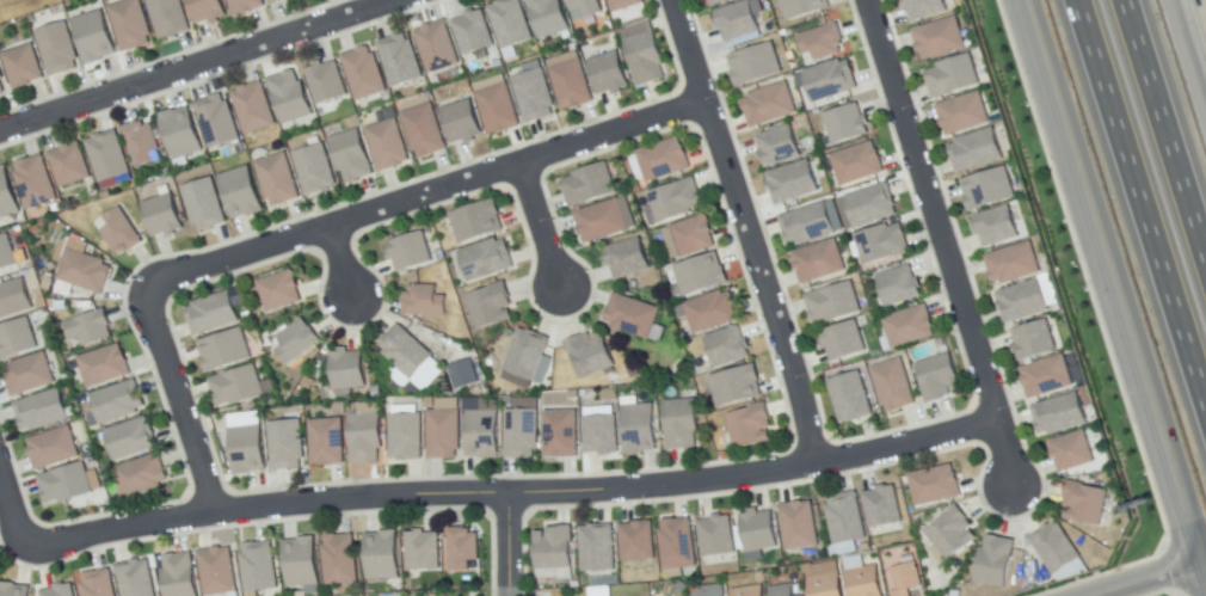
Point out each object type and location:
building: (267, 0)
building: (716, 1)
building: (245, 5)
building: (623, 5)
building: (802, 7)
building: (925, 7)
building: (585, 8)
building: (207, 10)
building: (168, 17)
building: (548, 17)
building: (737, 20)
building: (509, 23)
building: (130, 24)
building: (473, 32)
building: (94, 36)
building: (940, 37)
building: (822, 41)
building: (437, 47)
building: (57, 48)
building: (645, 57)
building: (400, 60)
building: (755, 63)
road: (1186, 63)
building: (23, 66)
road: (197, 66)
building: (364, 73)
building: (609, 73)
building: (1, 74)
building: (952, 75)
building: (830, 79)
building: (326, 81)
building: (571, 84)
building: (1, 87)
building: (534, 94)
building: (290, 97)
building: (769, 104)
building: (254, 107)
building: (498, 107)
building: (962, 112)
building: (216, 121)
building: (461, 122)
building: (847, 123)
road: (1167, 127)
building: (424, 130)
building: (180, 133)
building: (140, 142)
building: (387, 145)
building: (779, 145)
building: (976, 150)
building: (350, 155)
building: (107, 158)
building: (660, 158)
building: (857, 164)
building: (69, 165)
building: (314, 168)
building: (277, 179)
building: (793, 182)
building: (35, 183)
building: (585, 183)
building: (989, 188)
building: (241, 192)
road: (424, 193)
building: (6, 195)
building: (675, 201)
building: (203, 204)
building: (870, 205)
road: (1136, 210)
building: (831, 214)
building: (161, 215)
building: (602, 219)
building: (476, 220)
road: (539, 223)
building: (807, 225)
building: (996, 226)
road: (747, 231)
building: (121, 232)
building: (693, 235)
road: (939, 242)
building: (881, 244)
building: (410, 251)
building: (6, 253)
building: (627, 258)
building: (487, 259)
road: (339, 260)
building: (820, 262)
building: (1013, 263)
building: (84, 270)
building: (700, 274)
building: (898, 285)
road: (1116, 289)
building: (279, 290)
building: (13, 297)
building: (424, 301)
building: (1022, 301)
building: (833, 303)
building: (491, 306)
building: (712, 312)
building: (213, 314)
building: (630, 314)
building: (909, 326)
building: (90, 327)
building: (17, 339)
building: (1034, 339)
building: (843, 340)
building: (296, 342)
building: (727, 346)
building: (224, 350)
building: (405, 350)
building: (527, 355)
building: (591, 355)
building: (104, 365)
building: (346, 369)
building: (29, 374)
building: (462, 375)
building: (1046, 376)
building: (939, 377)
building: (401, 380)
building: (893, 385)
building: (236, 386)
building: (737, 386)
building: (851, 397)
road: (180, 400)
building: (116, 403)
building: (41, 411)
building: (1059, 414)
building: (682, 424)
building: (751, 425)
building: (601, 429)
building: (640, 429)
building: (521, 432)
building: (443, 434)
building: (482, 434)
building: (561, 434)
building: (405, 436)
building: (130, 438)
building: (363, 438)
building: (326, 442)
building: (285, 444)
building: (51, 448)
building: (247, 449)
building: (1072, 451)
building: (140, 475)
building: (64, 483)
building: (934, 485)
road: (511, 492)
building: (1085, 503)
building: (882, 506)
road: (12, 509)
building: (845, 518)
building: (800, 526)
building: (759, 530)
building: (952, 533)
building: (716, 536)
building: (638, 542)
building: (677, 543)
road: (509, 545)
building: (597, 547)
building: (554, 548)
building: (1056, 548)
building: (423, 549)
building: (463, 551)
building: (383, 555)
building: (339, 559)
building: (996, 561)
building: (300, 563)
building: (259, 567)
building: (219, 571)
building: (552, 572)
building: (179, 575)
road: (1146, 578)
building: (136, 579)
building: (905, 579)
building: (864, 582)
building: (97, 583)
building: (826, 584)
building: (13, 590)
building: (59, 590)
building: (783, 590)
building: (749, 591)
building: (709, 592)
building: (799, 595)

